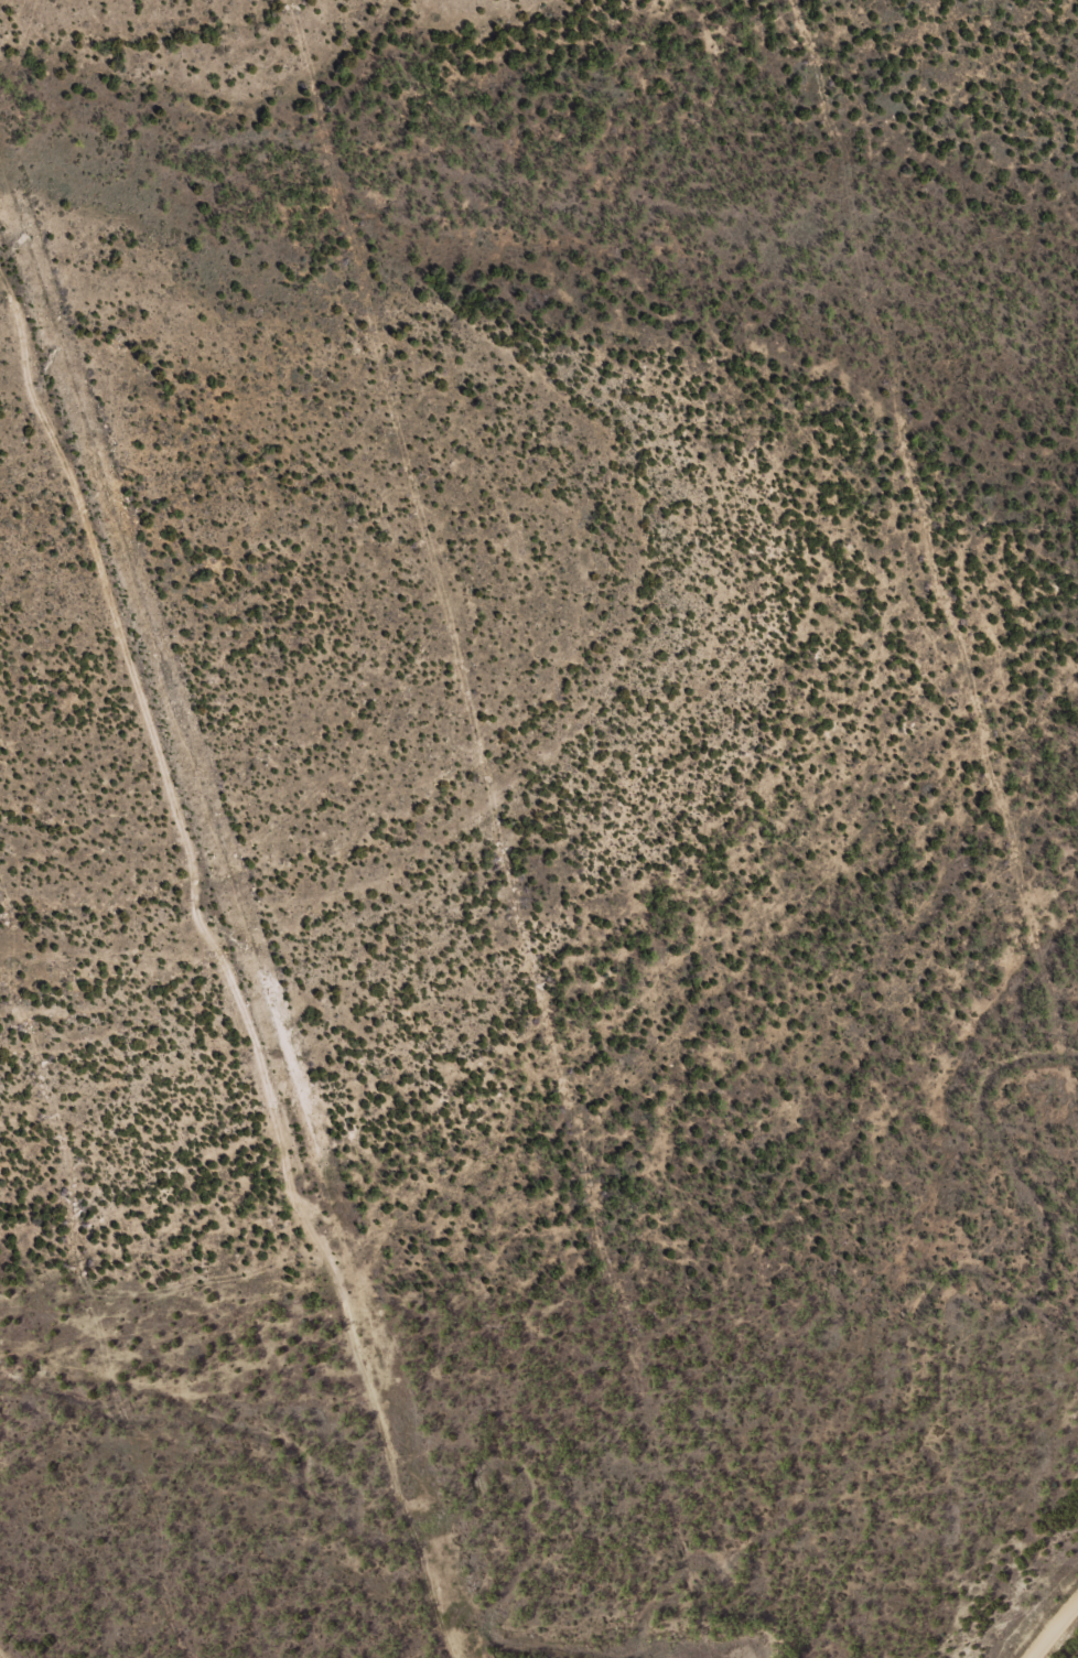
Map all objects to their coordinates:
road: (1067, 1645)

